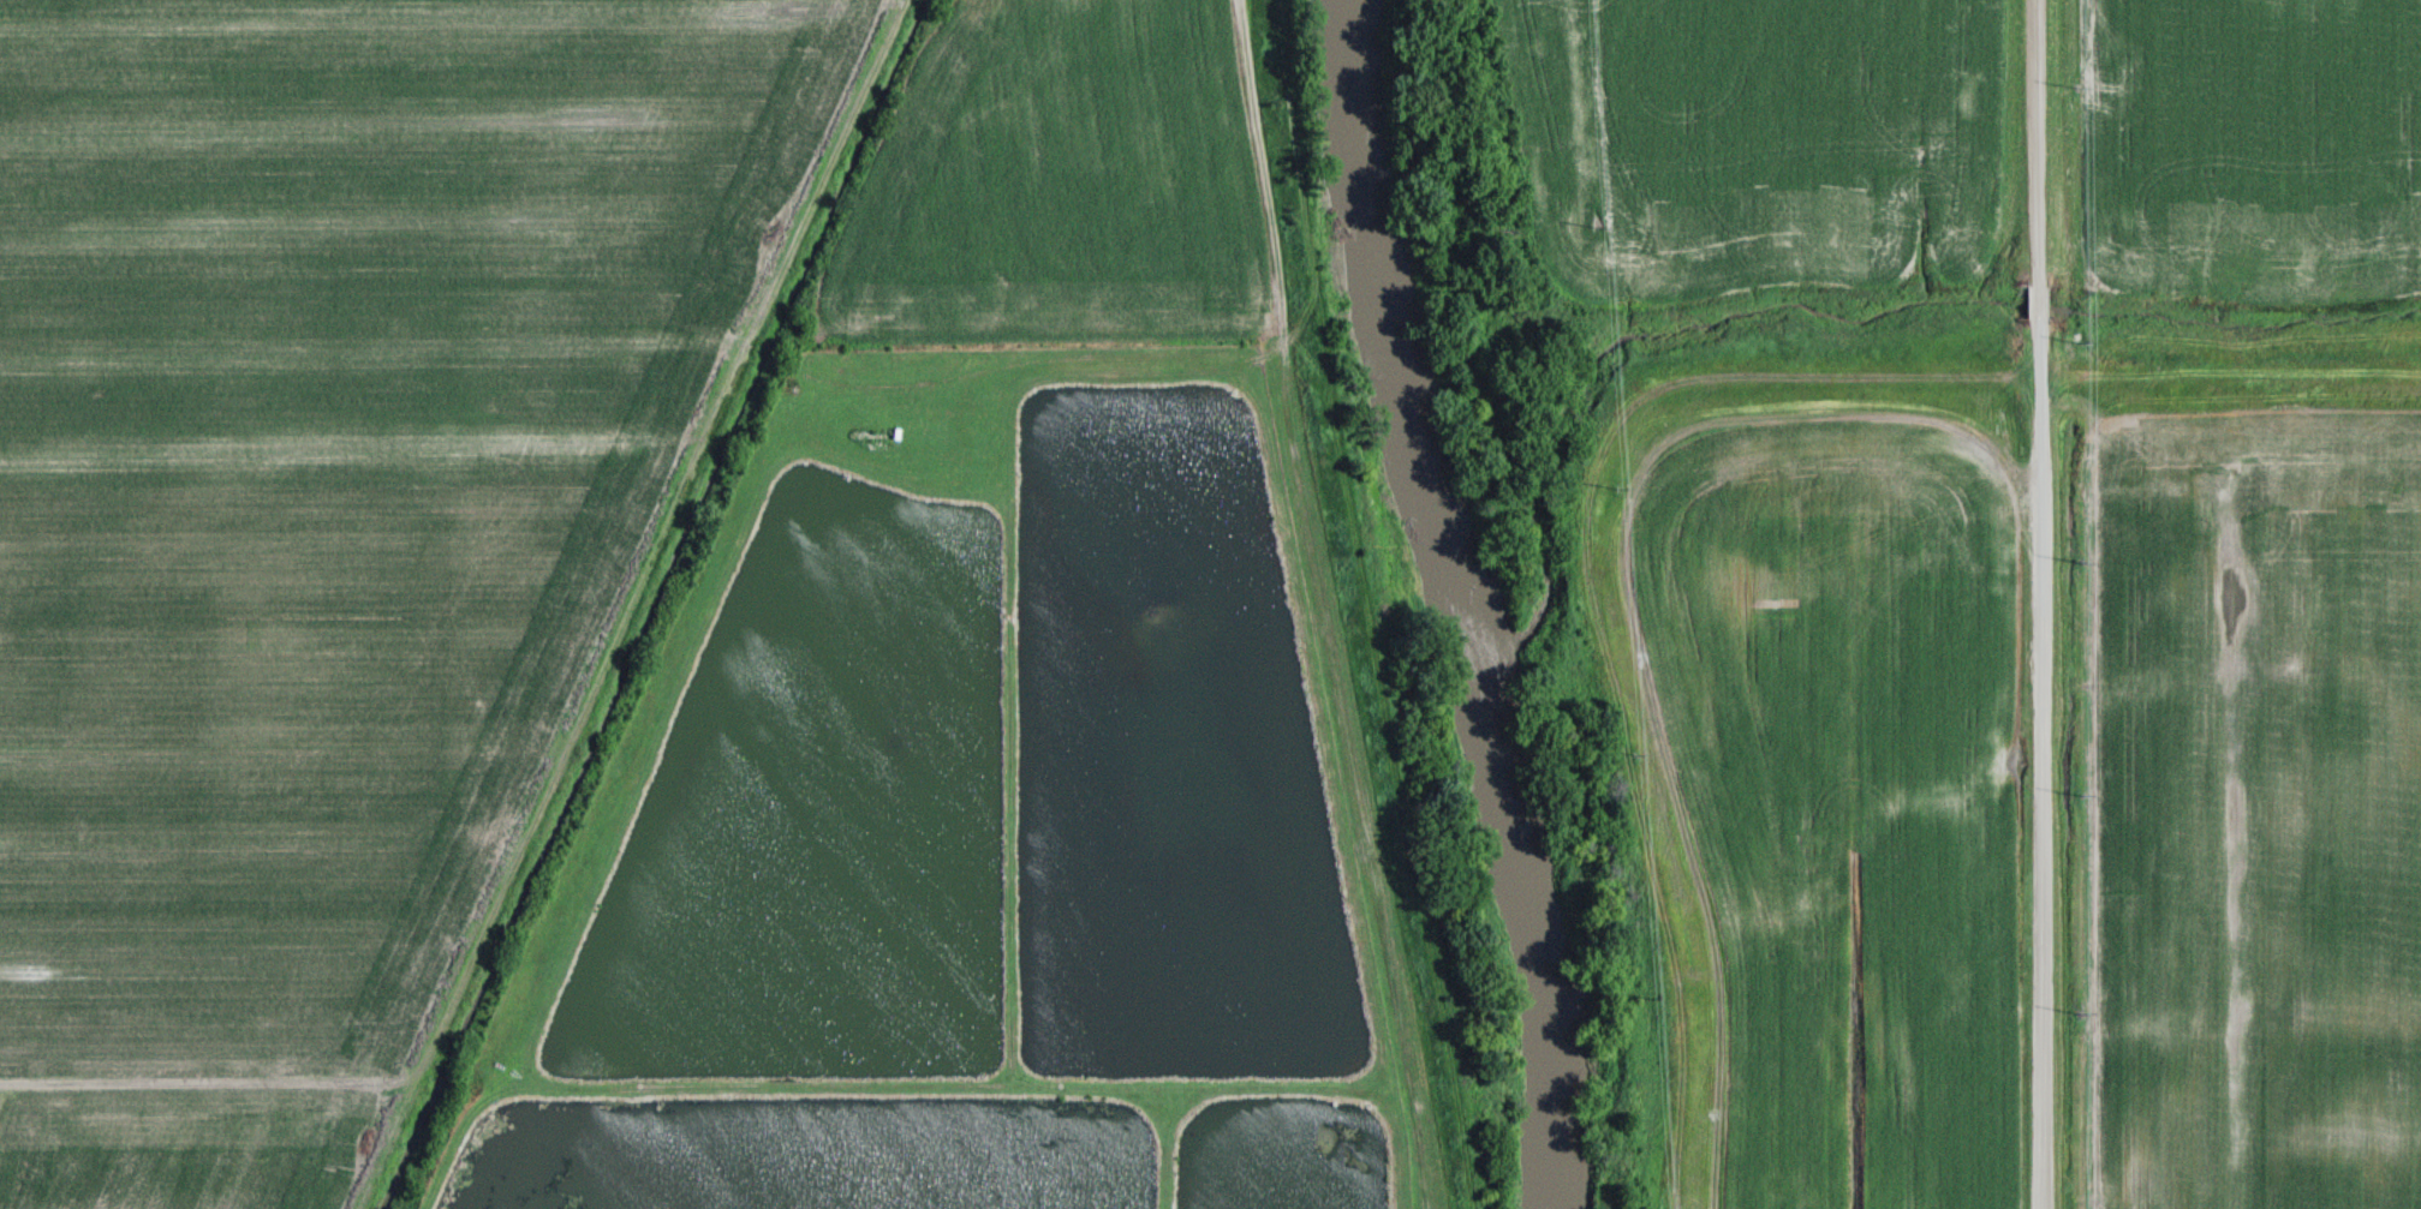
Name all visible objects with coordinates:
river: (1465, 600)
road: (2034, 604)

